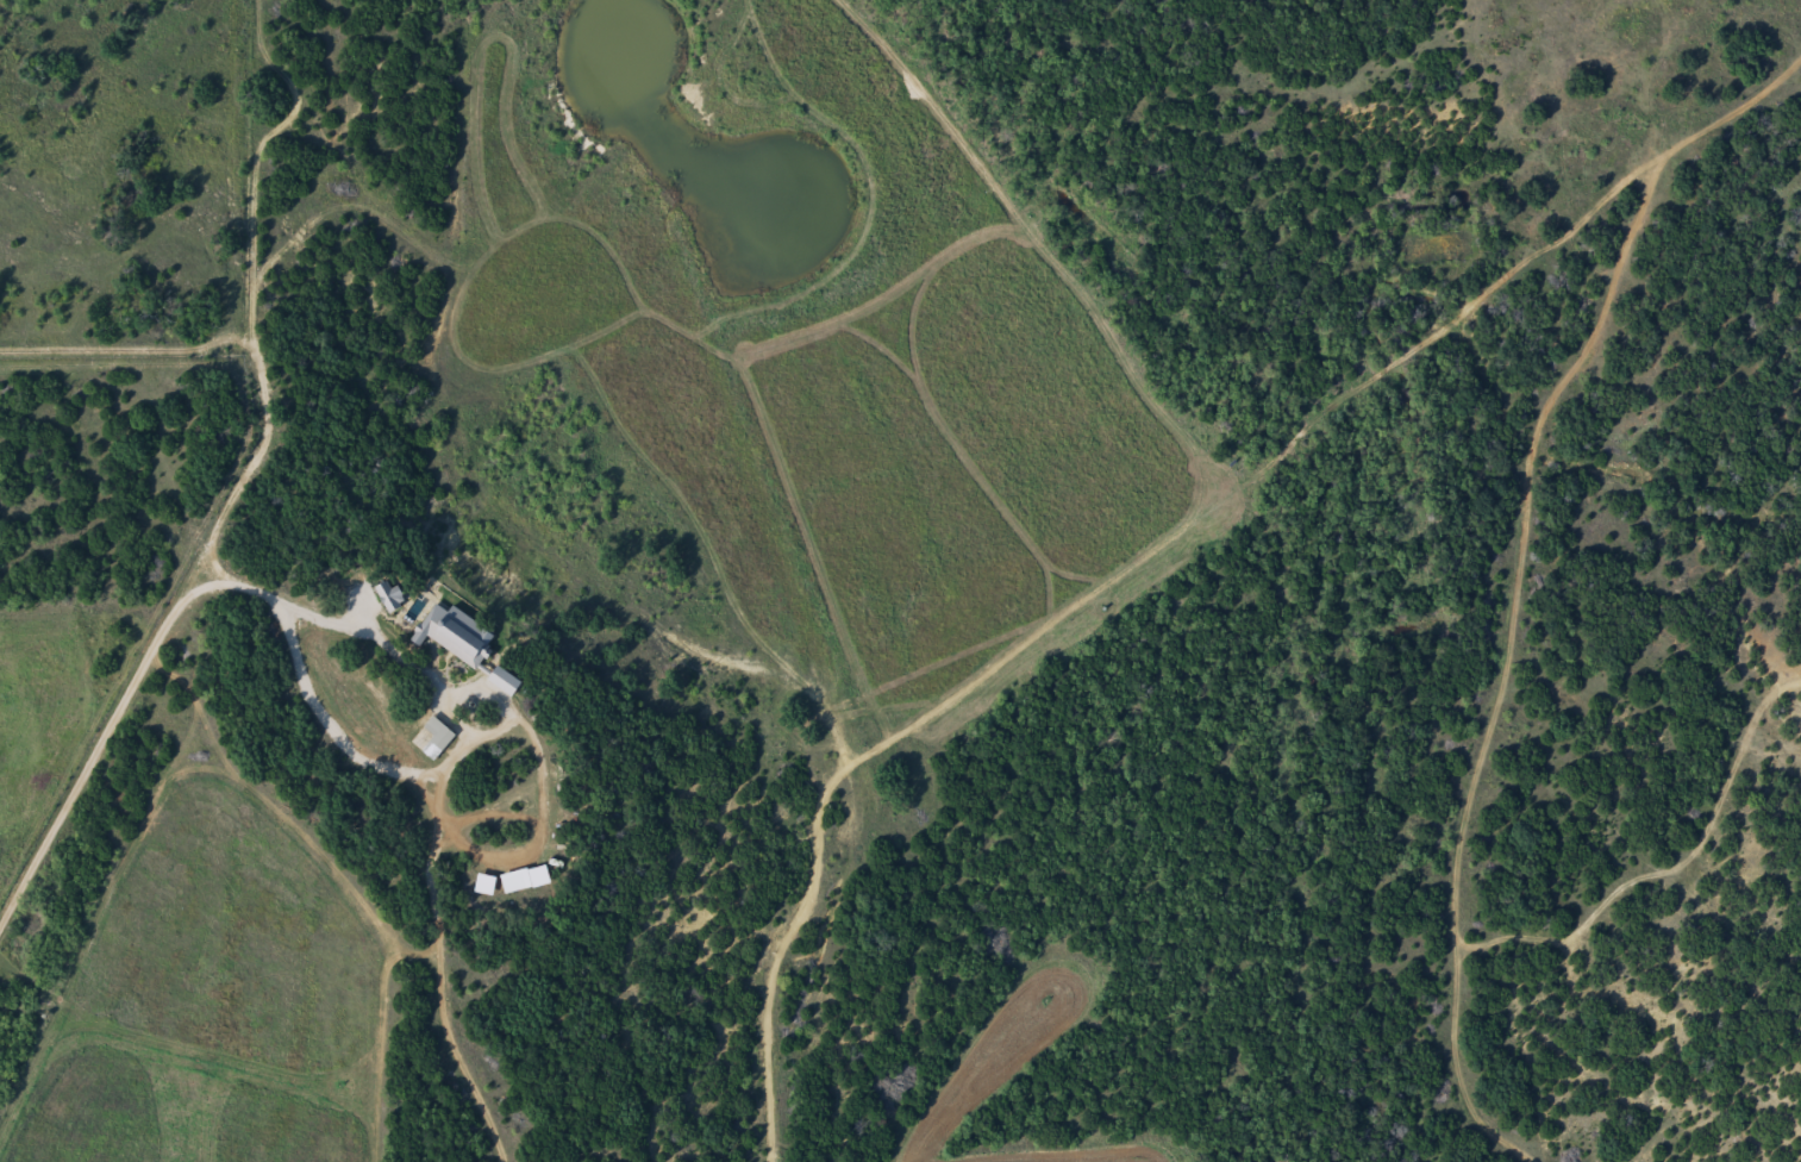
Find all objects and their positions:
road: (1574, 579)
road: (633, 591)
building: (454, 612)
building: (437, 738)
building: (515, 885)

